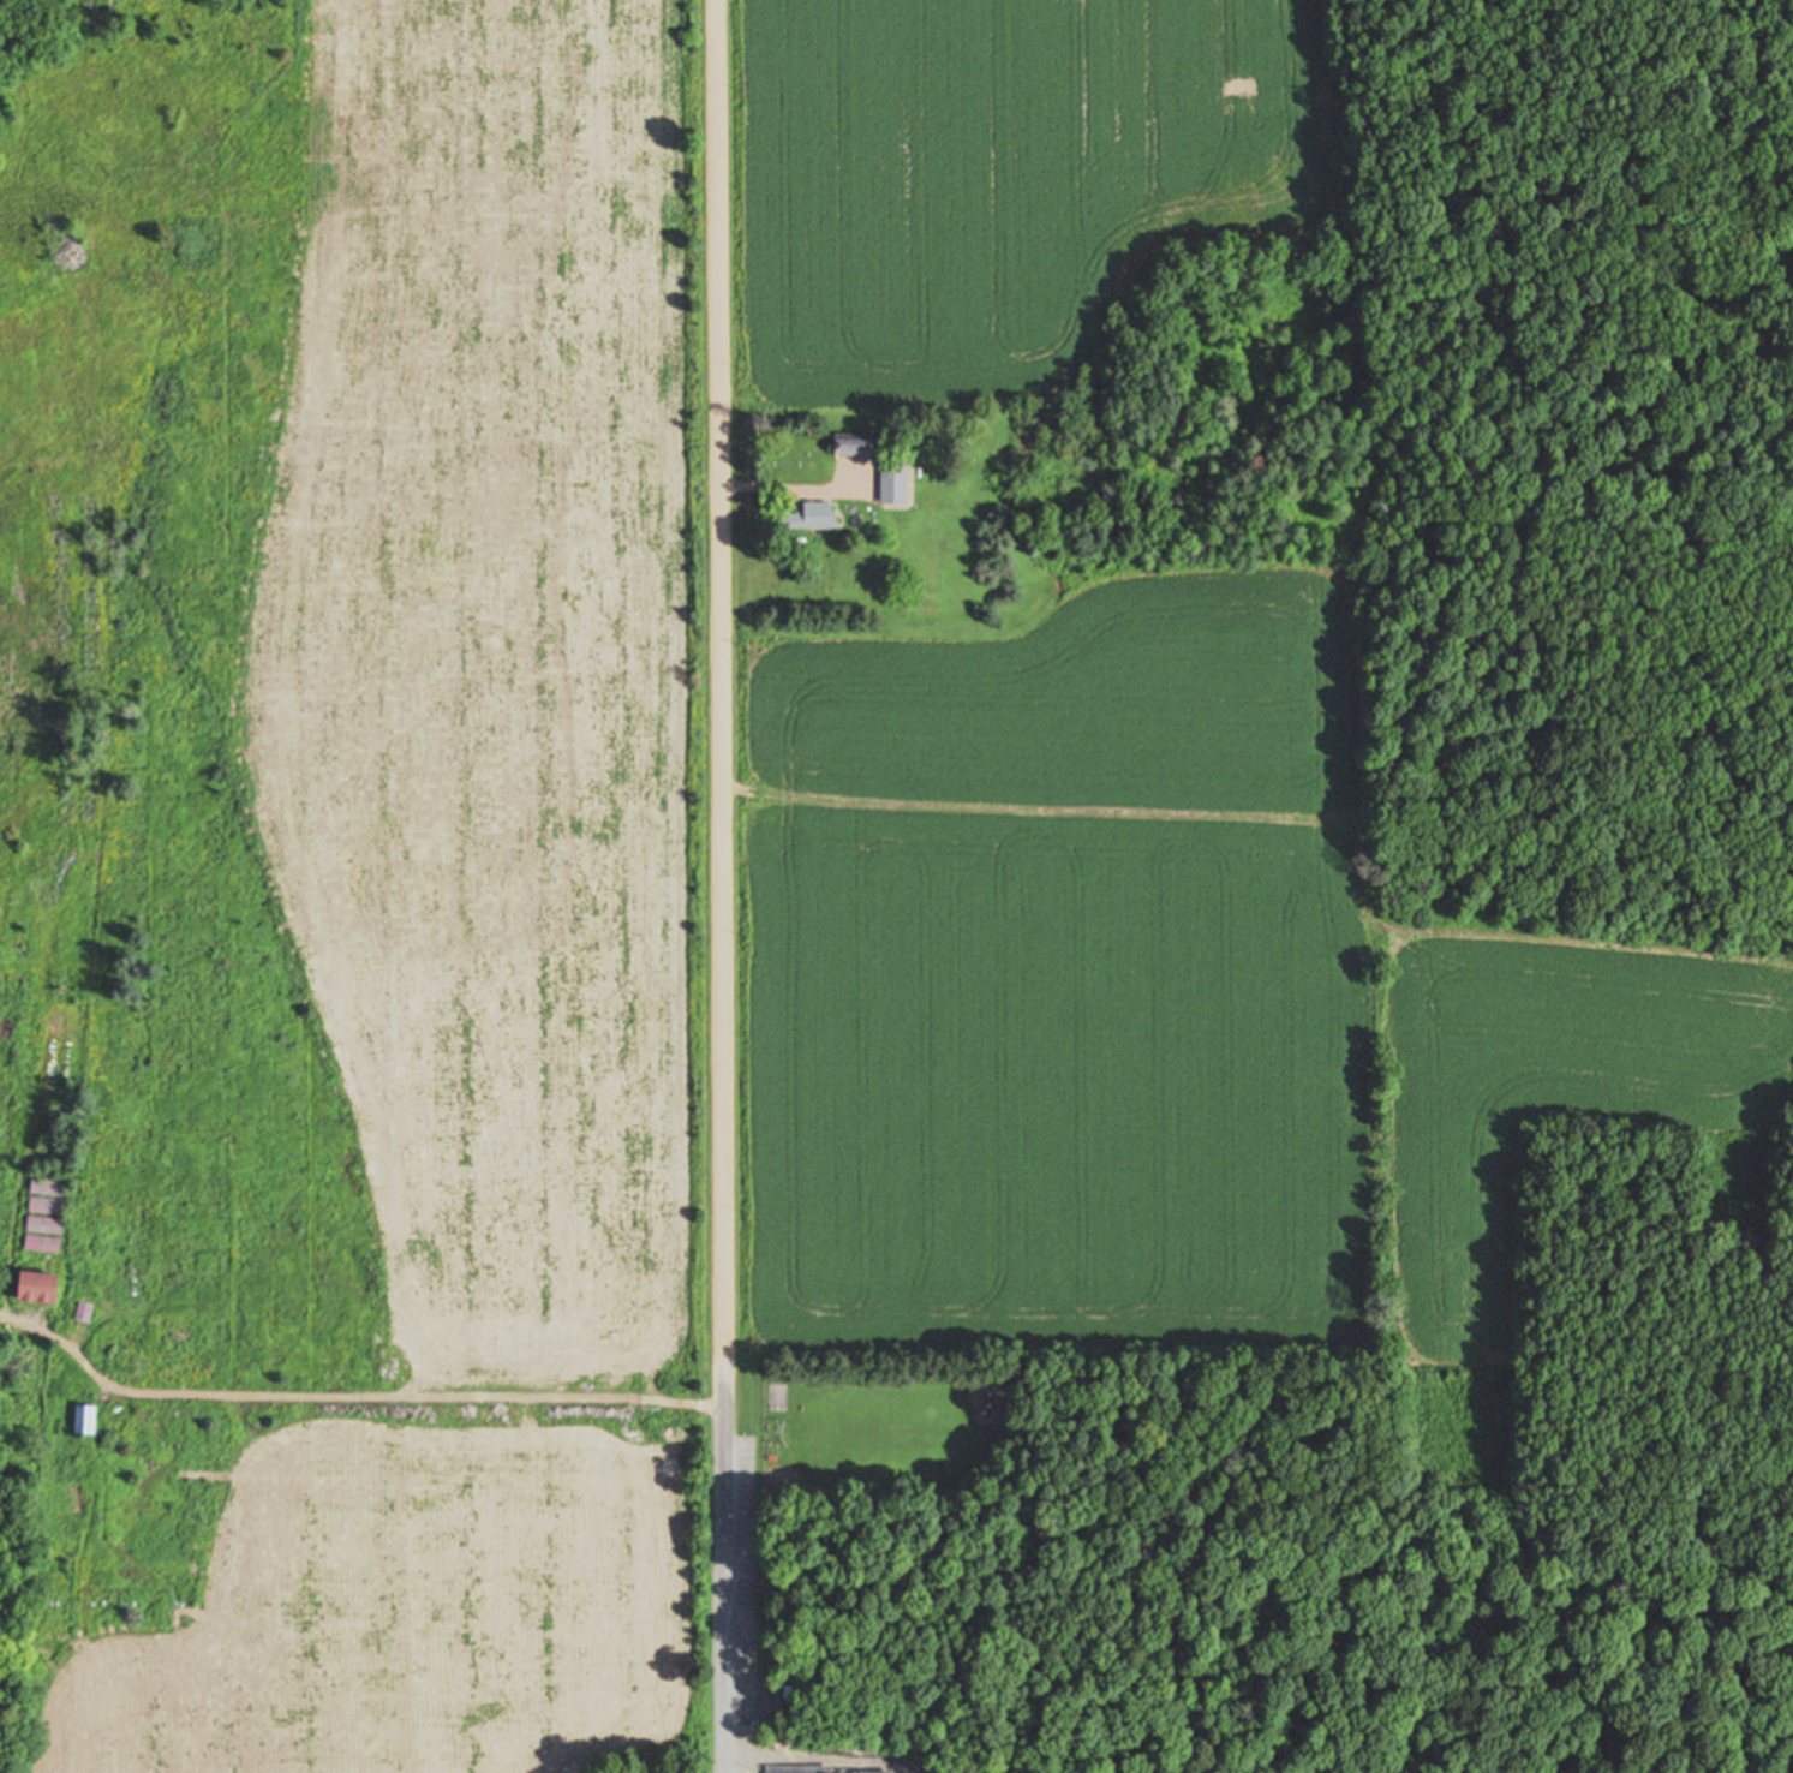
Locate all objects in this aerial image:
building: (844, 446)
building: (887, 485)
building: (805, 519)
road: (724, 686)
building: (46, 1288)
building: (91, 1421)
road: (722, 1574)
park: (647, 1767)
building: (793, 1771)

